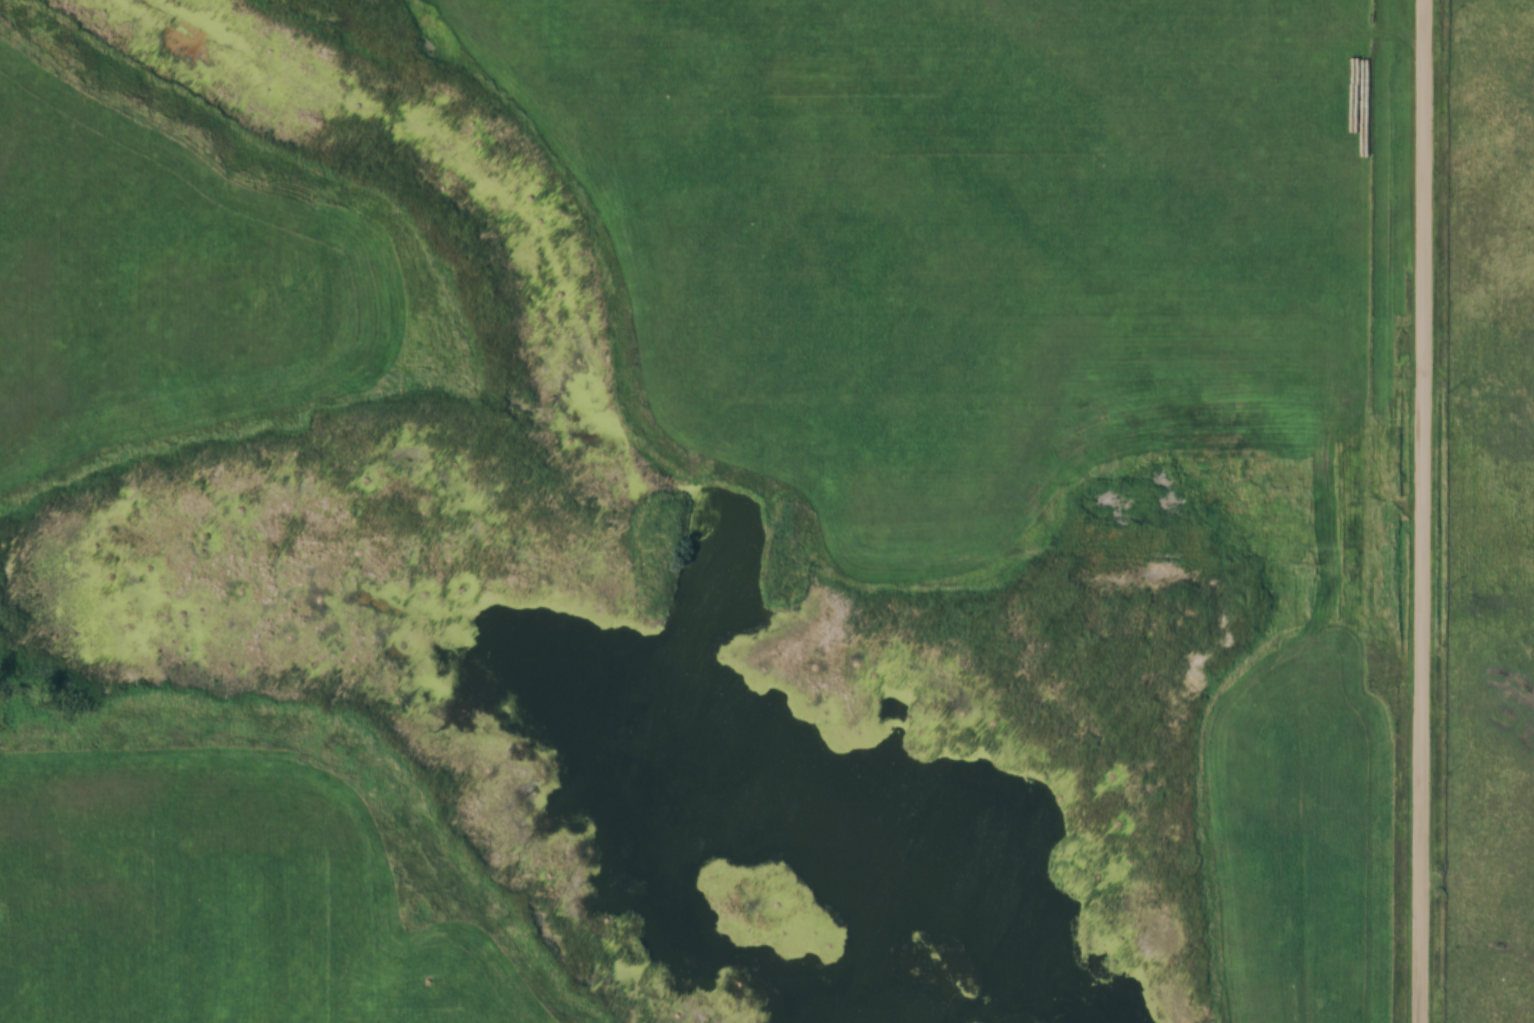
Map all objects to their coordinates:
road: (1430, 511)

